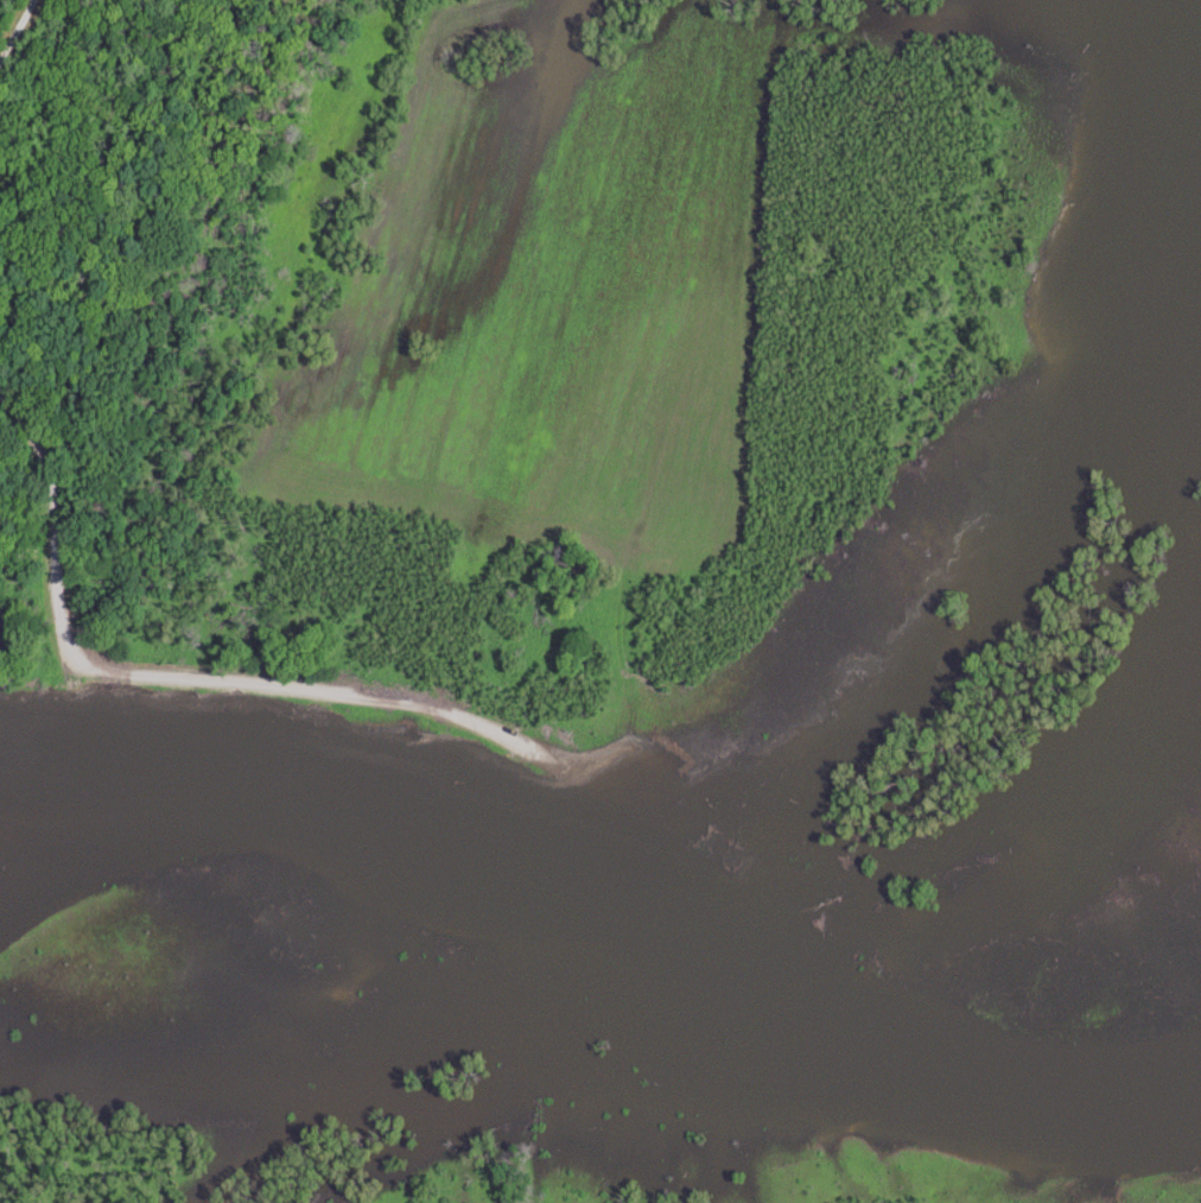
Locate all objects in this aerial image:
road: (15, 26)
road: (191, 680)

